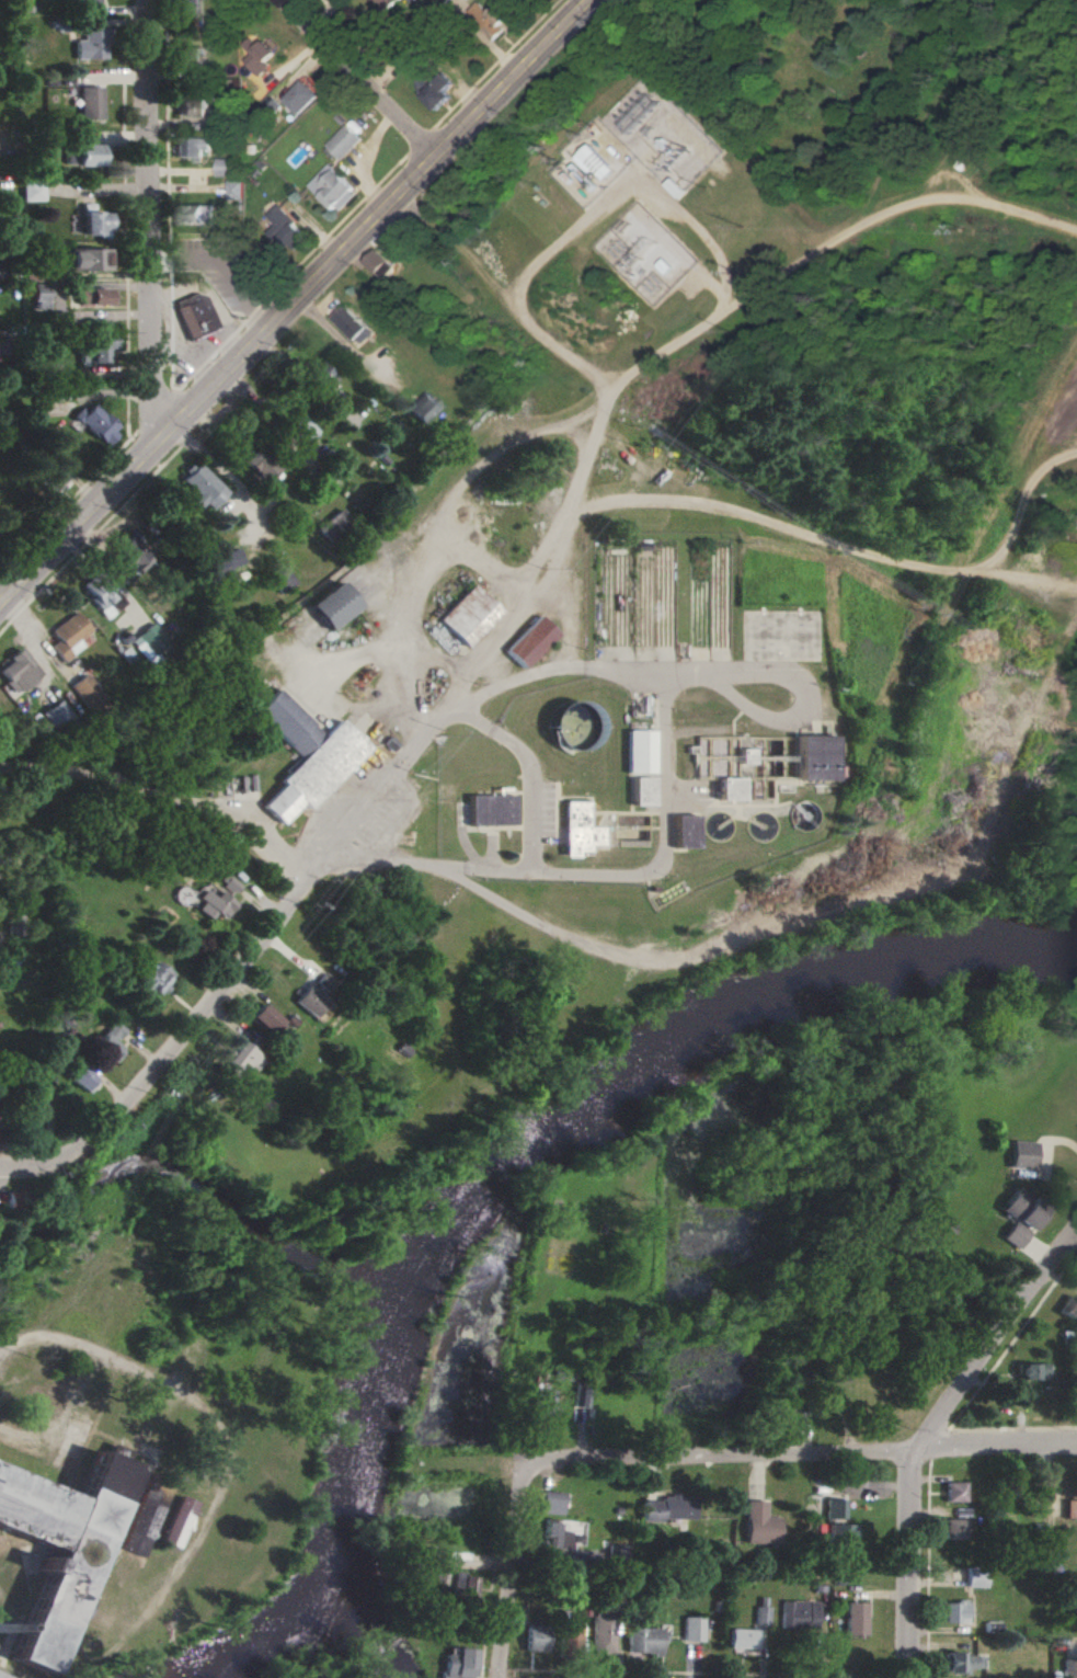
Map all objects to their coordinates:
building: (80, 0)
building: (411, 0)
building: (452, 2)
building: (386, 3)
building: (185, 7)
building: (494, 19)
building: (90, 44)
building: (262, 57)
building: (191, 58)
road: (497, 65)
road: (363, 77)
building: (428, 81)
building: (301, 95)
building: (89, 102)
building: (273, 107)
building: (197, 110)
power substation: (665, 138)
road: (168, 139)
building: (344, 140)
road: (423, 140)
building: (194, 147)
road: (617, 153)
building: (87, 155)
building: (597, 162)
building: (226, 167)
building: (333, 187)
building: (236, 189)
building: (198, 214)
building: (92, 220)
road: (697, 224)
road: (150, 226)
building: (285, 227)
road: (337, 229)
power substation: (649, 254)
road: (127, 256)
building: (88, 259)
road: (171, 262)
building: (380, 263)
road: (224, 270)
road: (530, 275)
road: (171, 279)
road: (698, 285)
road: (715, 287)
building: (41, 296)
building: (93, 296)
road: (298, 304)
road: (252, 315)
building: (196, 316)
building: (353, 324)
road: (171, 327)
road: (240, 328)
road: (228, 340)
building: (94, 350)
road: (214, 355)
road: (200, 368)
building: (320, 377)
road: (174, 388)
road: (175, 390)
building: (424, 408)
road: (156, 411)
building: (95, 423)
building: (301, 425)
road: (185, 443)
road: (501, 449)
road: (146, 453)
building: (261, 463)
road: (159, 466)
road: (220, 467)
building: (53, 481)
building: (206, 487)
road: (69, 502)
building: (334, 525)
road: (90, 539)
road: (849, 547)
building: (128, 552)
building: (220, 566)
road: (412, 591)
road: (1028, 591)
building: (332, 605)
building: (467, 615)
building: (68, 636)
building: (149, 641)
building: (529, 641)
road: (437, 660)
building: (16, 672)
building: (84, 690)
building: (53, 714)
road: (434, 715)
road: (661, 724)
building: (638, 752)
building: (305, 756)
building: (809, 757)
building: (726, 788)
building: (640, 790)
road: (163, 796)
building: (488, 810)
road: (529, 815)
building: (576, 830)
building: (683, 831)
building: (224, 884)
building: (208, 904)
building: (147, 978)
building: (314, 995)
building: (260, 1018)
building: (105, 1042)
road: (173, 1046)
building: (240, 1058)
building: (75, 1076)
building: (1022, 1154)
river: (541, 1167)
building: (1023, 1209)
building: (1015, 1235)
building: (1069, 1308)
building: (1033, 1371)
building: (580, 1397)
building: (540, 1409)
building: (792, 1424)
road: (932, 1436)
road: (802, 1454)
building: (954, 1492)
building: (552, 1503)
building: (669, 1508)
building: (835, 1508)
building: (1070, 1508)
building: (176, 1521)
building: (759, 1523)
building: (955, 1529)
road: (197, 1530)
building: (554, 1539)
building: (841, 1540)
building: (75, 1544)
building: (617, 1554)
building: (433, 1564)
road: (514, 1576)
building: (977, 1576)
building: (463, 1585)
building: (1074, 1596)
building: (956, 1611)
building: (763, 1614)
building: (800, 1614)
building: (856, 1618)
building: (994, 1626)
building: (692, 1629)
river: (283, 1632)
building: (603, 1634)
building: (570, 1635)
building: (536, 1637)
building: (743, 1639)
building: (644, 1641)
building: (965, 1662)
building: (458, 1663)
building: (1070, 1668)
building: (4, 1670)

